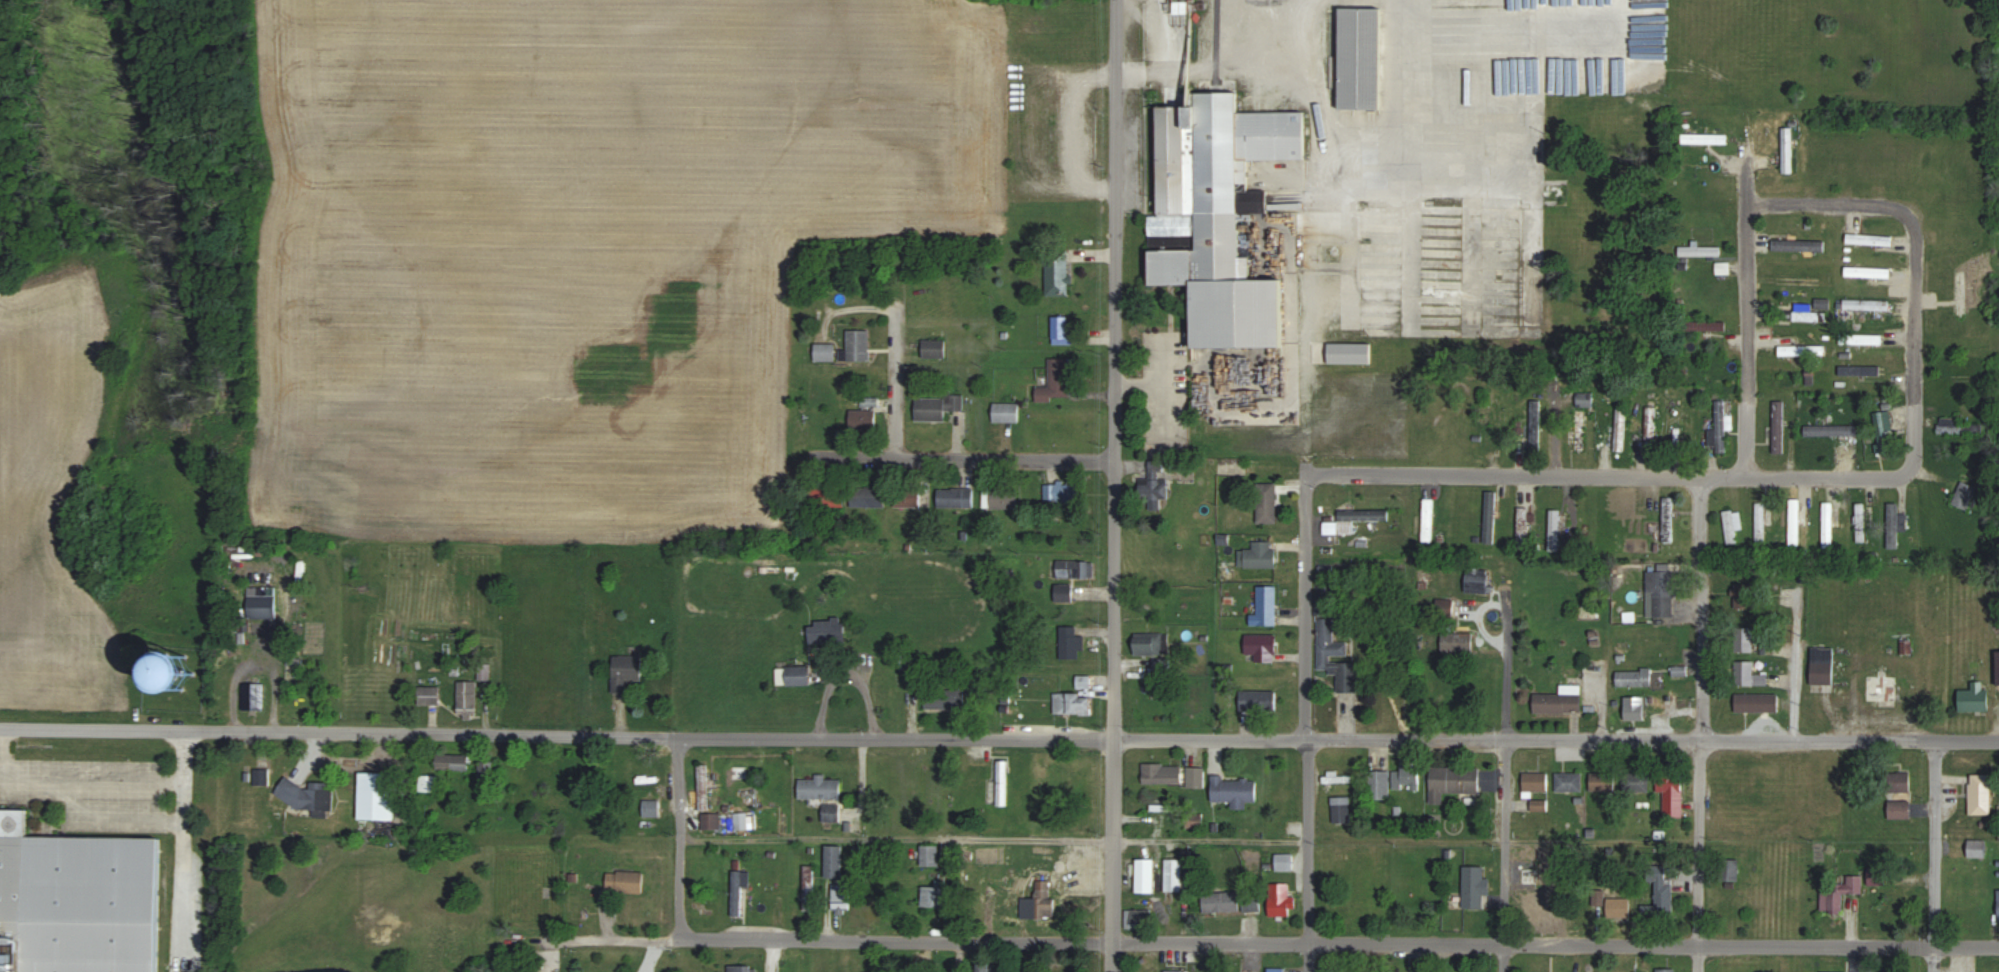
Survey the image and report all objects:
building: (1362, 58)
building: (1992, 67)
building: (1705, 139)
building: (1788, 150)
road: (1395, 167)
road: (1747, 175)
road: (1300, 177)
building: (1220, 216)
building: (1799, 245)
building: (1700, 251)
building: (1059, 275)
building: (1963, 292)
building: (1866, 304)
building: (1803, 314)
building: (1706, 326)
building: (1061, 329)
road: (1746, 338)
building: (1861, 339)
building: (934, 349)
building: (825, 352)
road: (897, 353)
building: (1350, 353)
building: (1860, 370)
building: (1057, 380)
building: (1585, 399)
building: (869, 401)
building: (938, 406)
building: (1007, 412)
building: (863, 419)
building: (1498, 419)
building: (1066, 423)
building: (1536, 425)
building: (1951, 425)
building: (1779, 426)
building: (1621, 428)
building: (1720, 428)
building: (1578, 429)
building: (1650, 429)
building: (1831, 430)
building: (1885, 431)
road: (964, 459)
road: (1128, 463)
road: (1819, 477)
building: (1155, 485)
road: (1114, 486)
building: (1062, 491)
building: (1965, 495)
building: (828, 496)
building: (868, 496)
building: (909, 497)
building: (956, 498)
building: (1001, 499)
building: (1268, 502)
building: (1668, 512)
building: (1490, 516)
building: (1360, 518)
building: (1428, 520)
building: (1796, 520)
building: (1764, 521)
building: (1861, 523)
building: (1733, 524)
building: (1828, 525)
building: (1893, 526)
building: (1555, 529)
building: (1259, 555)
building: (1075, 569)
building: (1478, 580)
building: (1064, 593)
building: (1663, 593)
building: (1745, 595)
building: (261, 605)
building: (1266, 606)
building: (828, 630)
building: (1744, 638)
building: (1457, 642)
building: (1070, 643)
building: (1151, 643)
building: (1262, 647)
building: (1334, 650)
building: (1823, 666)
building: (1998, 667)
building: (177, 668)
building: (627, 671)
building: (1749, 674)
building: (794, 675)
building: (1634, 677)
building: (1883, 688)
building: (428, 696)
building: (253, 697)
building: (467, 697)
building: (1975, 697)
building: (942, 700)
building: (1258, 701)
building: (1757, 701)
building: (1558, 702)
building: (1074, 703)
building: (1636, 708)
road: (1307, 722)
road: (1700, 724)
road: (93, 727)
road: (1092, 738)
road: (3, 752)
building: (453, 762)
building: (644, 771)
building: (1163, 774)
building: (1407, 775)
building: (1196, 777)
building: (1339, 778)
road: (119, 779)
building: (1455, 780)
building: (1535, 781)
building: (1569, 781)
building: (1603, 781)
building: (1636, 781)
building: (428, 783)
building: (1002, 783)
building: (1380, 784)
building: (704, 787)
building: (819, 787)
road: (1506, 788)
building: (1235, 791)
building: (1672, 792)
building: (1980, 794)
building: (377, 795)
building: (1899, 795)
building: (309, 796)
building: (652, 807)
building: (1342, 809)
building: (831, 812)
building: (711, 820)
road: (992, 836)
road: (677, 837)
building: (1978, 849)
building: (930, 855)
road: (1931, 855)
building: (1284, 862)
road: (185, 869)
building: (1732, 869)
building: (1174, 875)
building: (1146, 876)
building: (1532, 876)
building: (1879, 877)
building: (838, 879)
building: (625, 881)
building: (1475, 886)
building: (739, 892)
building: (1840, 894)
building: (1599, 895)
building: (1664, 895)
building: (936, 897)
building: (809, 898)
building: (1044, 899)
building: (1280, 900)
building: (77, 901)
building: (1221, 902)
building: (1252, 902)
building: (1372, 906)
building: (1618, 907)
building: (1542, 908)
building: (1139, 919)
road: (1244, 941)
building: (985, 966)
building: (743, 968)
building: (1276, 970)
building: (1667, 970)
building: (1178, 971)
building: (1836, 971)

